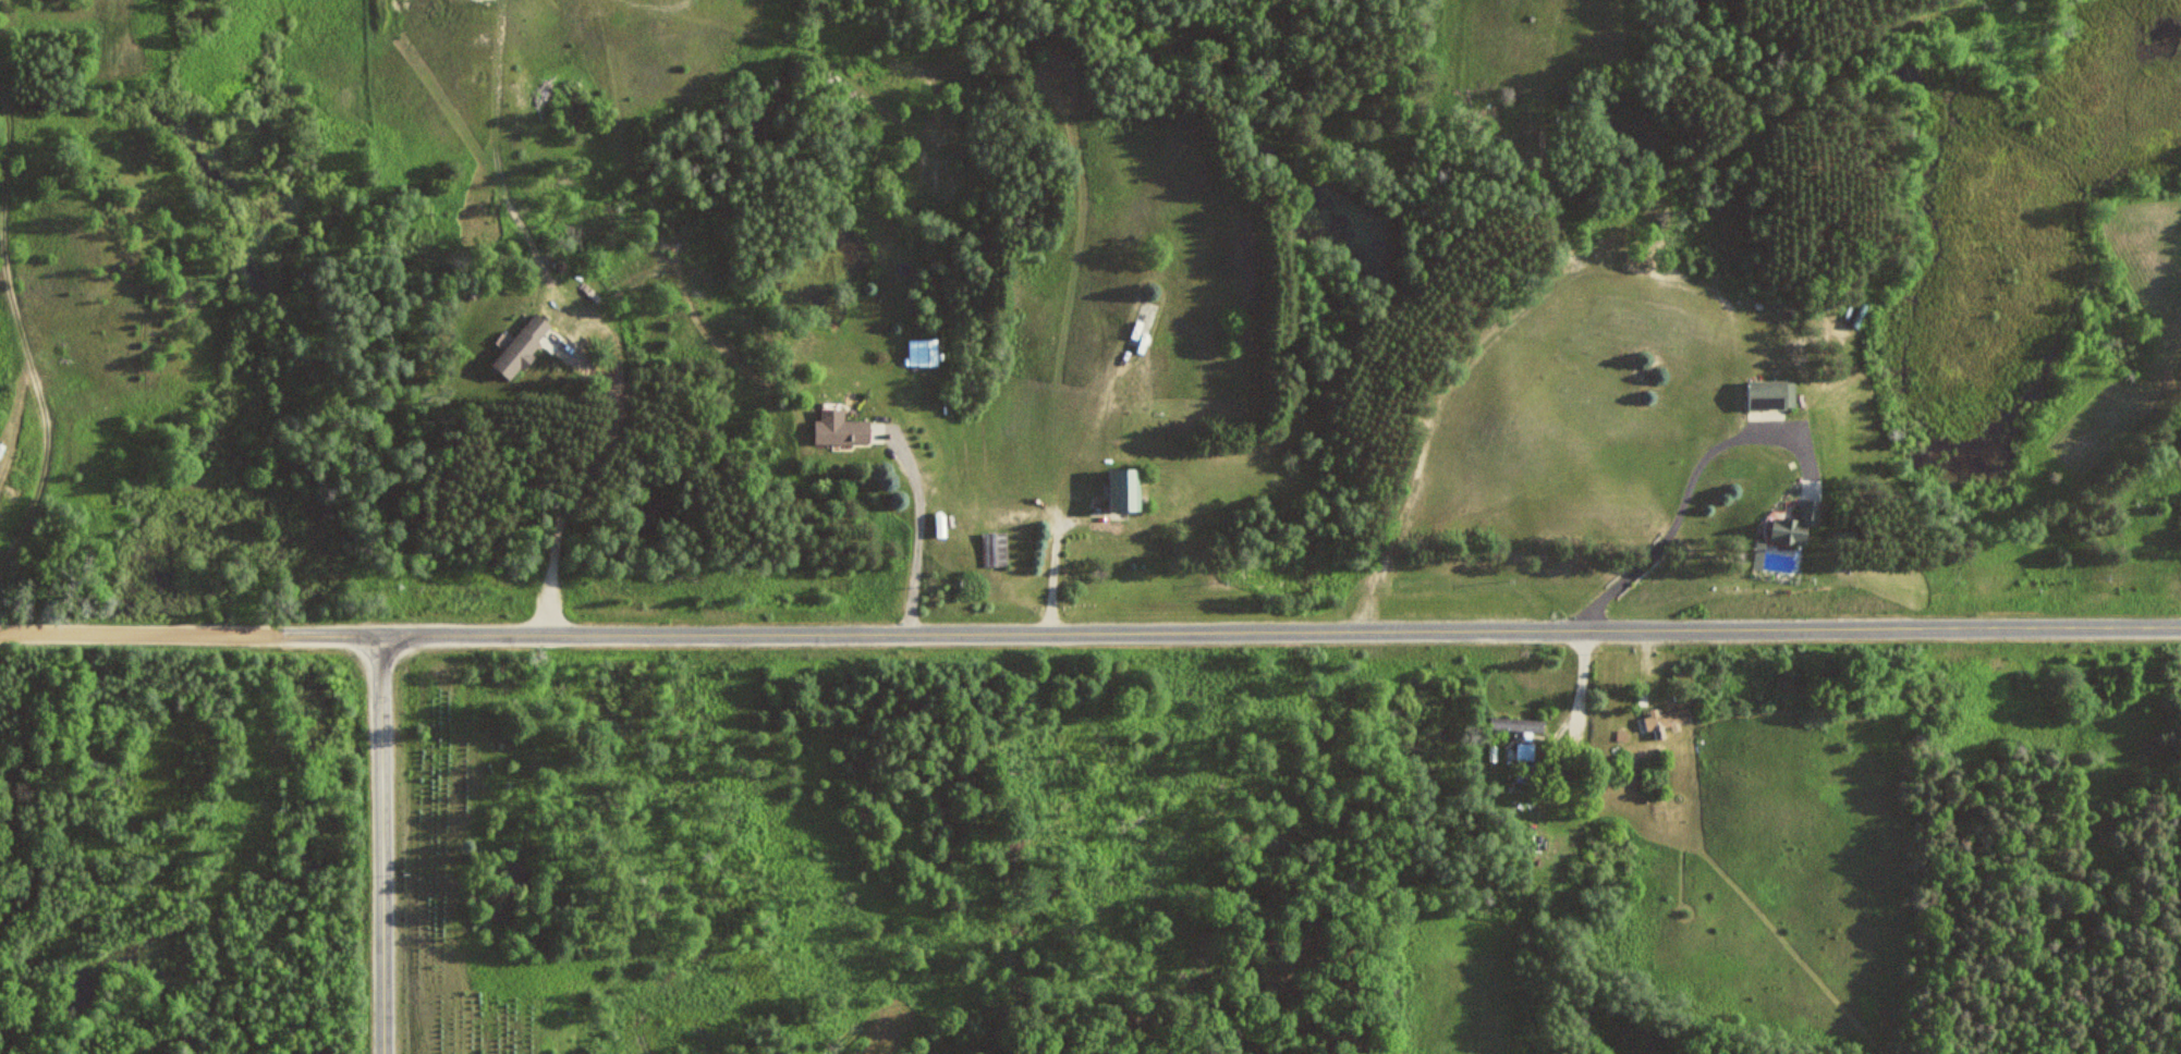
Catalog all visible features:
building: (526, 346)
building: (929, 353)
building: (1774, 394)
building: (842, 429)
building: (1128, 490)
building: (1799, 522)
building: (996, 549)
road: (190, 632)
road: (1280, 632)
building: (1668, 721)
building: (1519, 723)
road: (382, 845)

